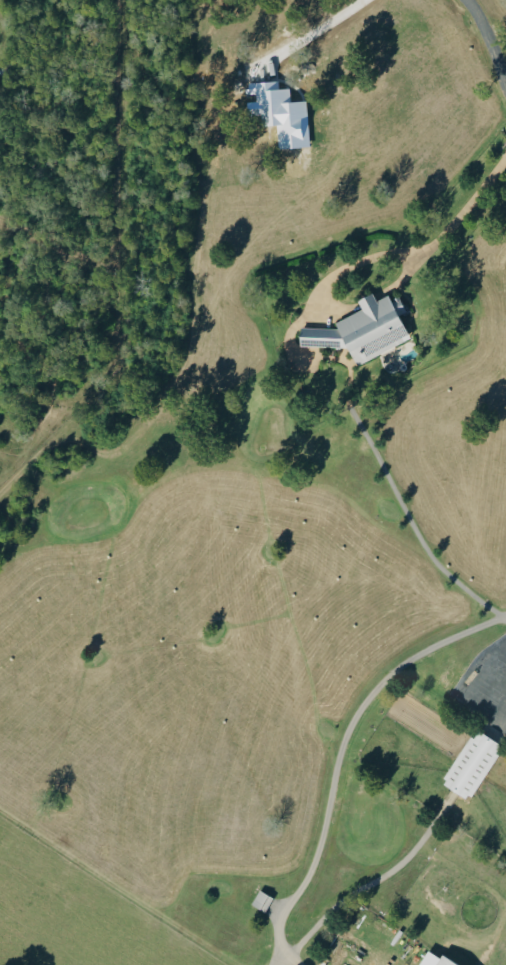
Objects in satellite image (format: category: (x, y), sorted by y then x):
road: (490, 34)
road: (431, 255)
building: (360, 329)
road: (418, 529)
building: (469, 765)
road: (320, 861)
building: (260, 901)
building: (437, 961)

